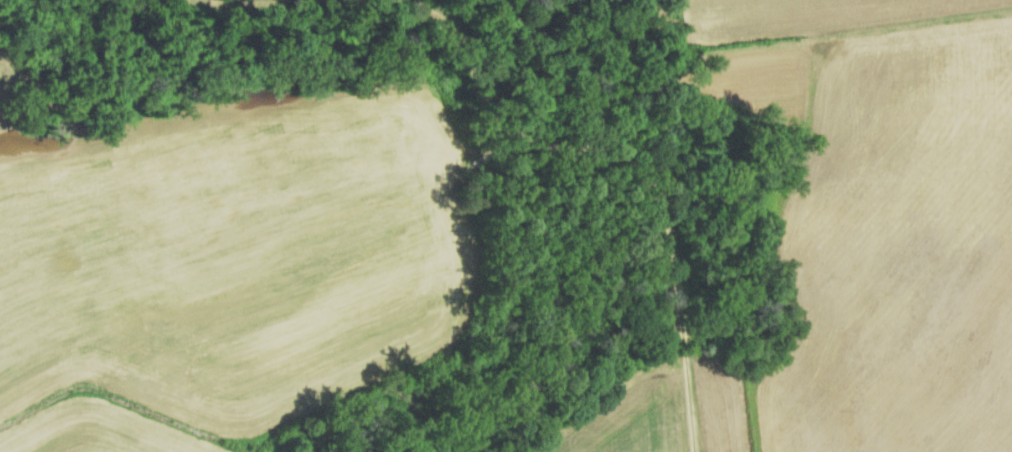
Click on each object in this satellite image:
road: (426, 187)

